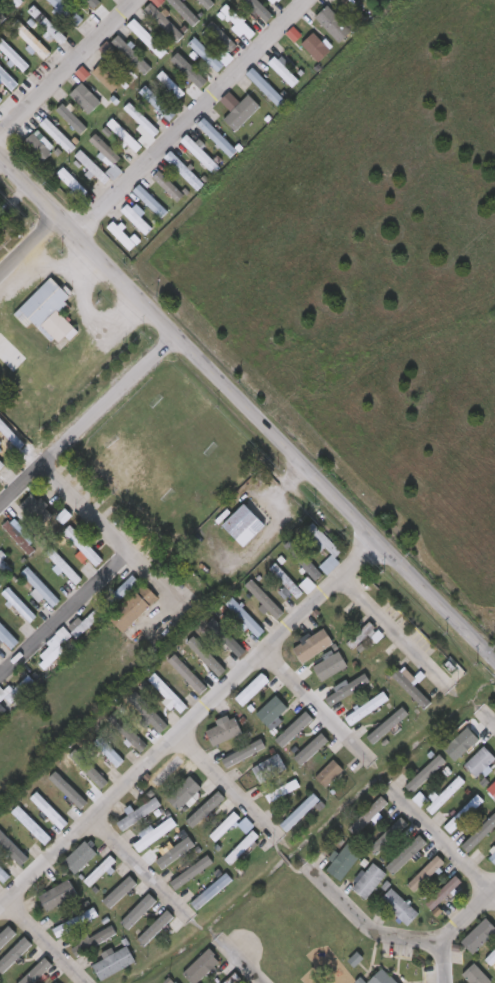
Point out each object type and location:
building: (274, 0)
building: (369, 0)
building: (277, 1)
building: (19, 2)
building: (91, 3)
building: (210, 3)
road: (371, 7)
building: (186, 11)
building: (68, 12)
building: (2, 18)
building: (166, 22)
building: (237, 23)
building: (333, 25)
building: (50, 26)
building: (222, 37)
building: (149, 38)
building: (30, 41)
building: (315, 48)
building: (14, 55)
building: (134, 55)
building: (208, 56)
road: (67, 67)
building: (280, 71)
building: (192, 72)
building: (111, 77)
building: (8, 78)
building: (263, 88)
building: (57, 96)
building: (1, 100)
building: (85, 100)
building: (160, 103)
building: (241, 113)
building: (141, 118)
road: (186, 119)
building: (68, 124)
building: (39, 148)
building: (109, 157)
building: (197, 160)
building: (74, 184)
building: (169, 185)
building: (152, 201)
building: (138, 220)
building: (120, 234)
road: (26, 247)
building: (50, 312)
road: (247, 414)
road: (84, 420)
building: (11, 436)
building: (0, 461)
building: (40, 511)
building: (248, 524)
road: (267, 533)
building: (19, 535)
road: (109, 538)
building: (85, 546)
building: (331, 549)
building: (300, 559)
building: (5, 563)
building: (66, 565)
building: (282, 581)
building: (0, 583)
building: (42, 586)
building: (114, 596)
building: (267, 599)
building: (21, 604)
building: (135, 607)
road: (63, 616)
building: (247, 616)
building: (1, 619)
building: (88, 621)
road: (393, 629)
building: (4, 634)
building: (361, 638)
building: (3, 639)
building: (312, 646)
building: (374, 653)
building: (206, 656)
building: (332, 666)
building: (189, 674)
building: (409, 685)
building: (345, 688)
building: (255, 689)
building: (19, 691)
building: (170, 692)
road: (312, 702)
building: (365, 706)
building: (2, 709)
road: (494, 710)
building: (274, 711)
building: (147, 714)
road: (186, 722)
building: (385, 723)
building: (292, 727)
building: (226, 730)
building: (128, 735)
building: (456, 739)
building: (110, 751)
building: (247, 753)
building: (477, 761)
building: (272, 767)
building: (91, 770)
building: (423, 773)
building: (328, 774)
road: (229, 779)
building: (208, 789)
building: (491, 790)
building: (441, 795)
building: (186, 797)
building: (50, 810)
building: (140, 813)
building: (297, 813)
building: (461, 814)
building: (364, 816)
building: (369, 817)
building: (221, 822)
building: (32, 825)
building: (225, 829)
building: (477, 833)
building: (385, 835)
road: (443, 837)
building: (13, 848)
building: (243, 849)
building: (176, 853)
building: (491, 853)
building: (403, 854)
building: (83, 855)
road: (141, 856)
building: (340, 861)
building: (100, 873)
building: (423, 873)
building: (3, 876)
building: (367, 881)
building: (210, 890)
building: (441, 892)
building: (59, 895)
building: (396, 906)
building: (76, 921)
road: (453, 929)
road: (367, 930)
road: (44, 937)
building: (479, 937)
building: (93, 940)
building: (490, 959)
building: (116, 963)
road: (252, 966)
building: (205, 967)
building: (38, 973)
building: (474, 975)
building: (379, 978)
building: (236, 979)
building: (170, 980)

